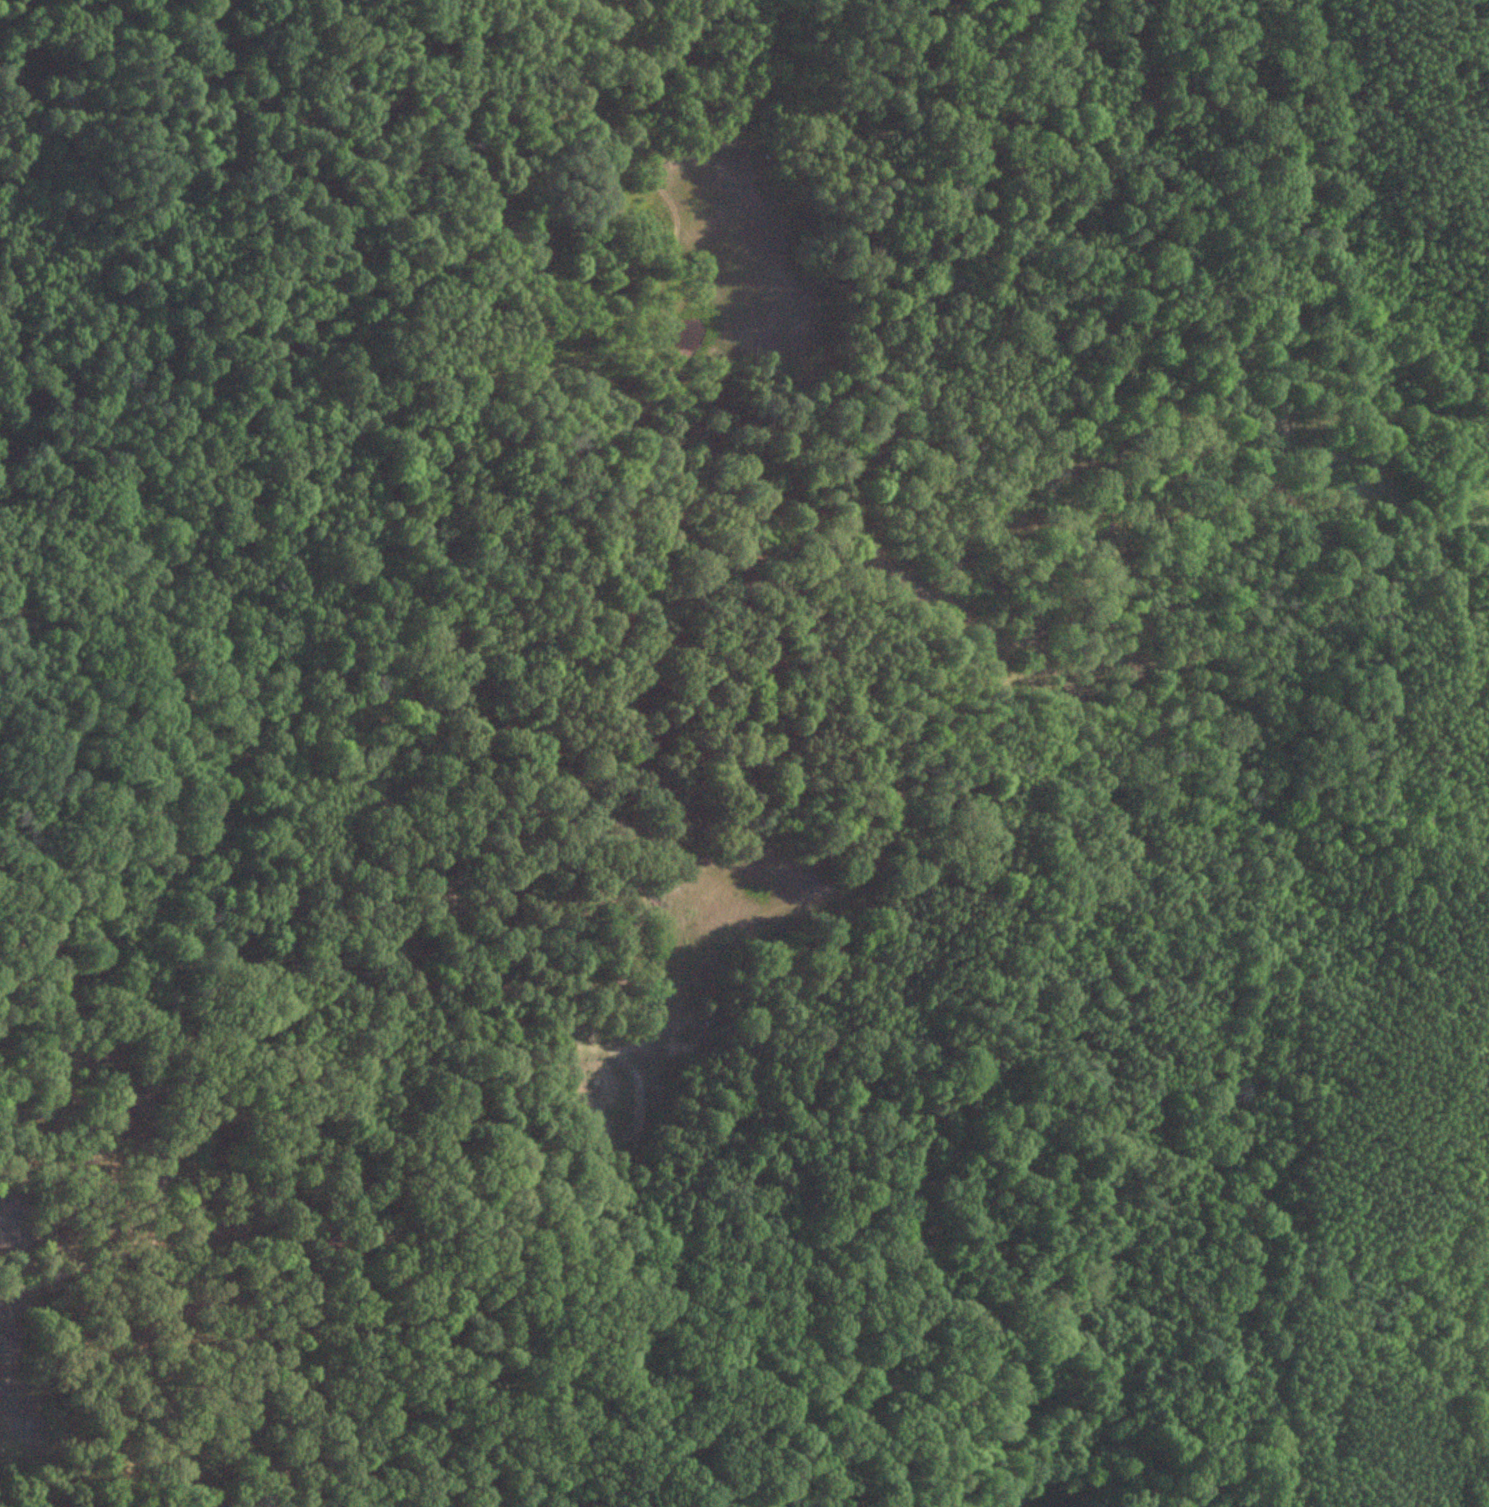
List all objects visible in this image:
road: (709, 956)

